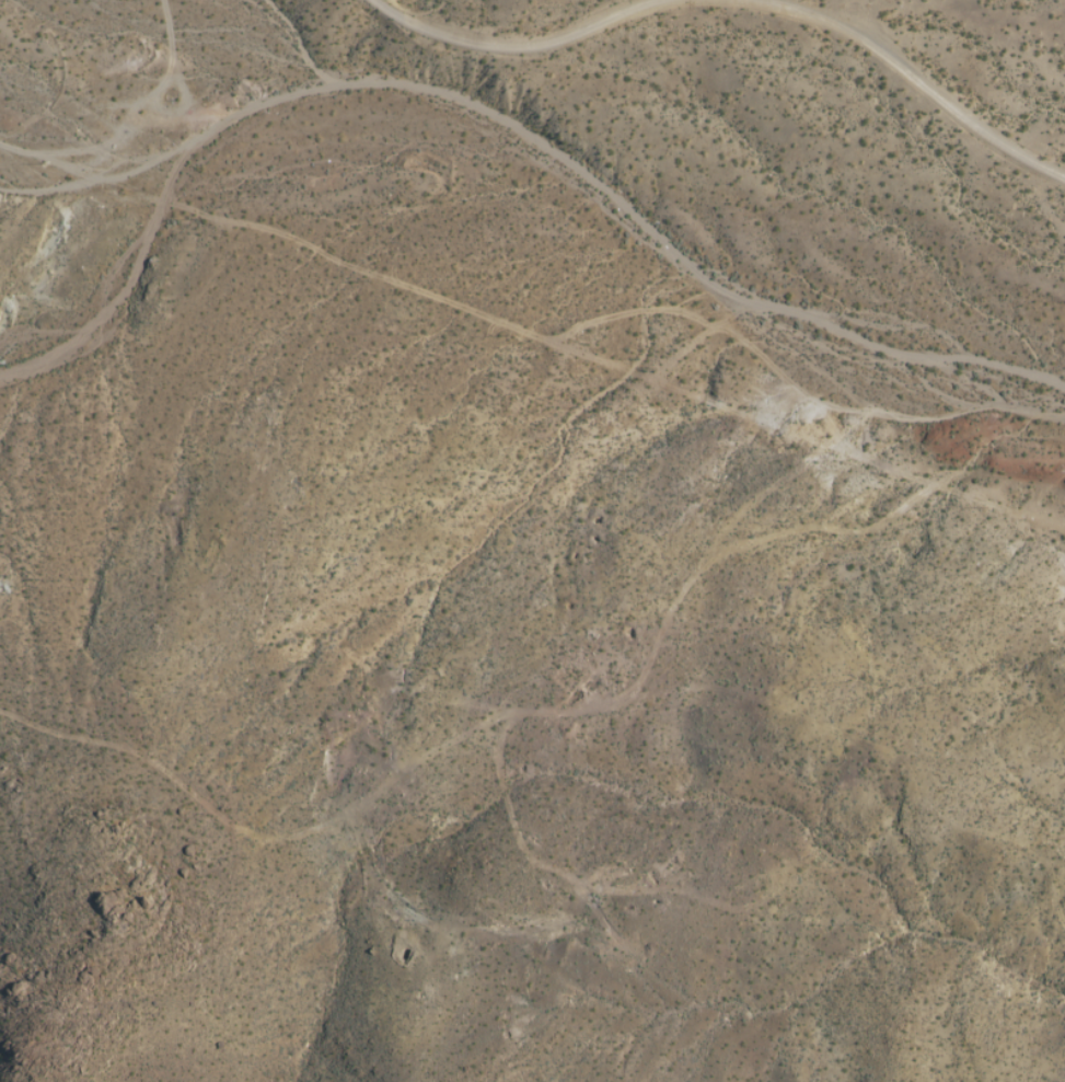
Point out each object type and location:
road: (512, 43)
road: (927, 82)

